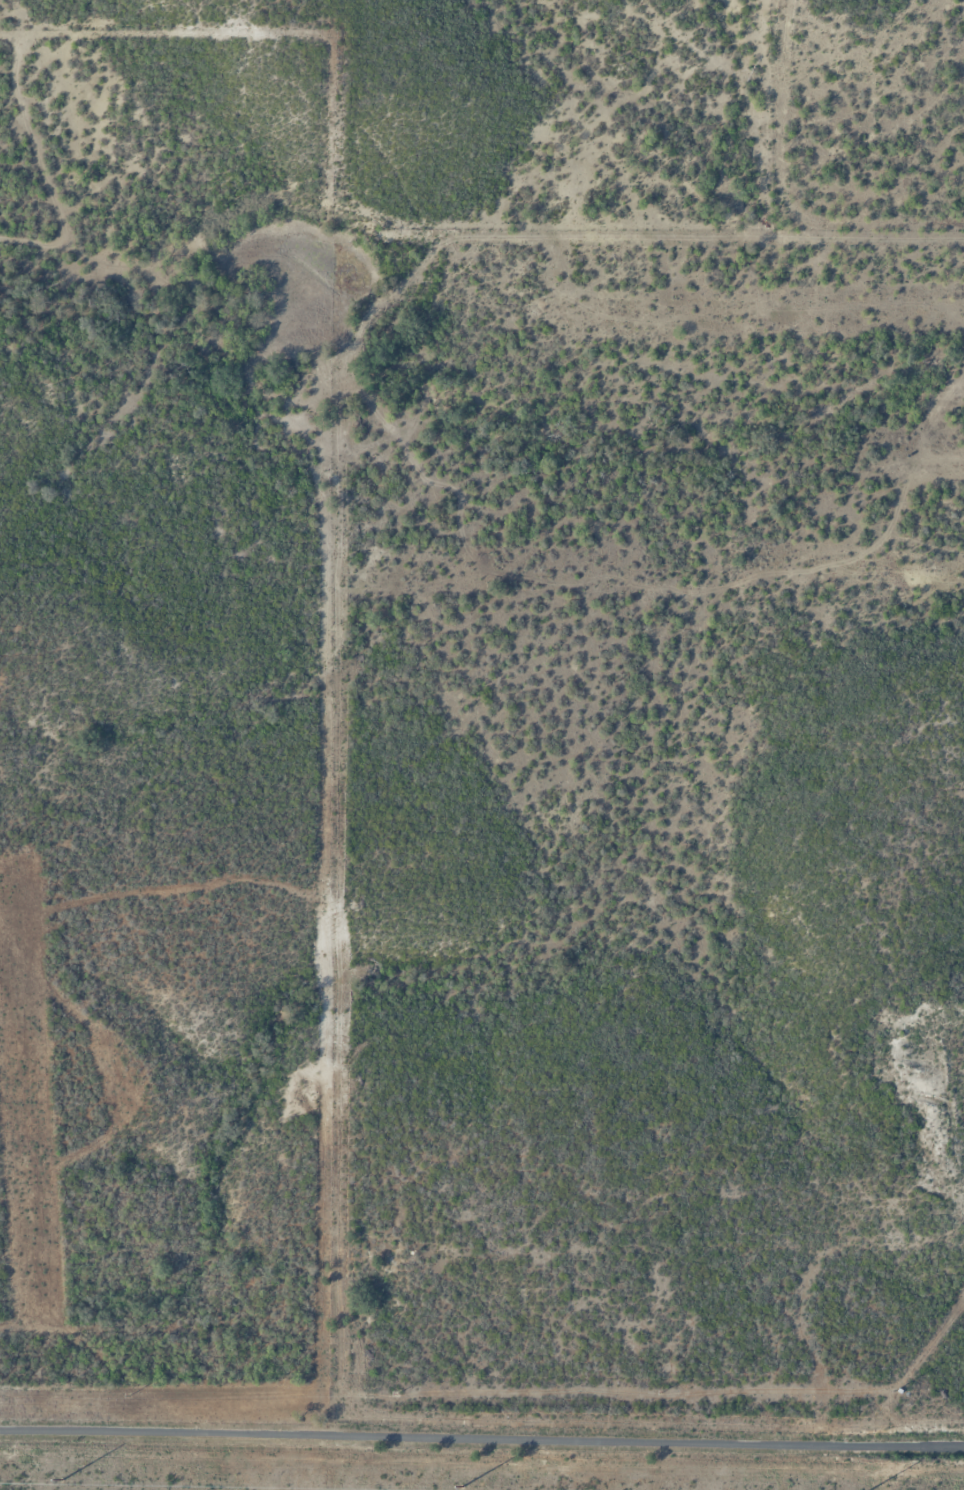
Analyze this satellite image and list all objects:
power tower: (894, 1391)
power tower: (661, 1392)
power tower: (394, 1393)
power tower: (127, 1395)
road: (482, 1438)
power tower: (59, 1478)
power tower: (459, 1486)

